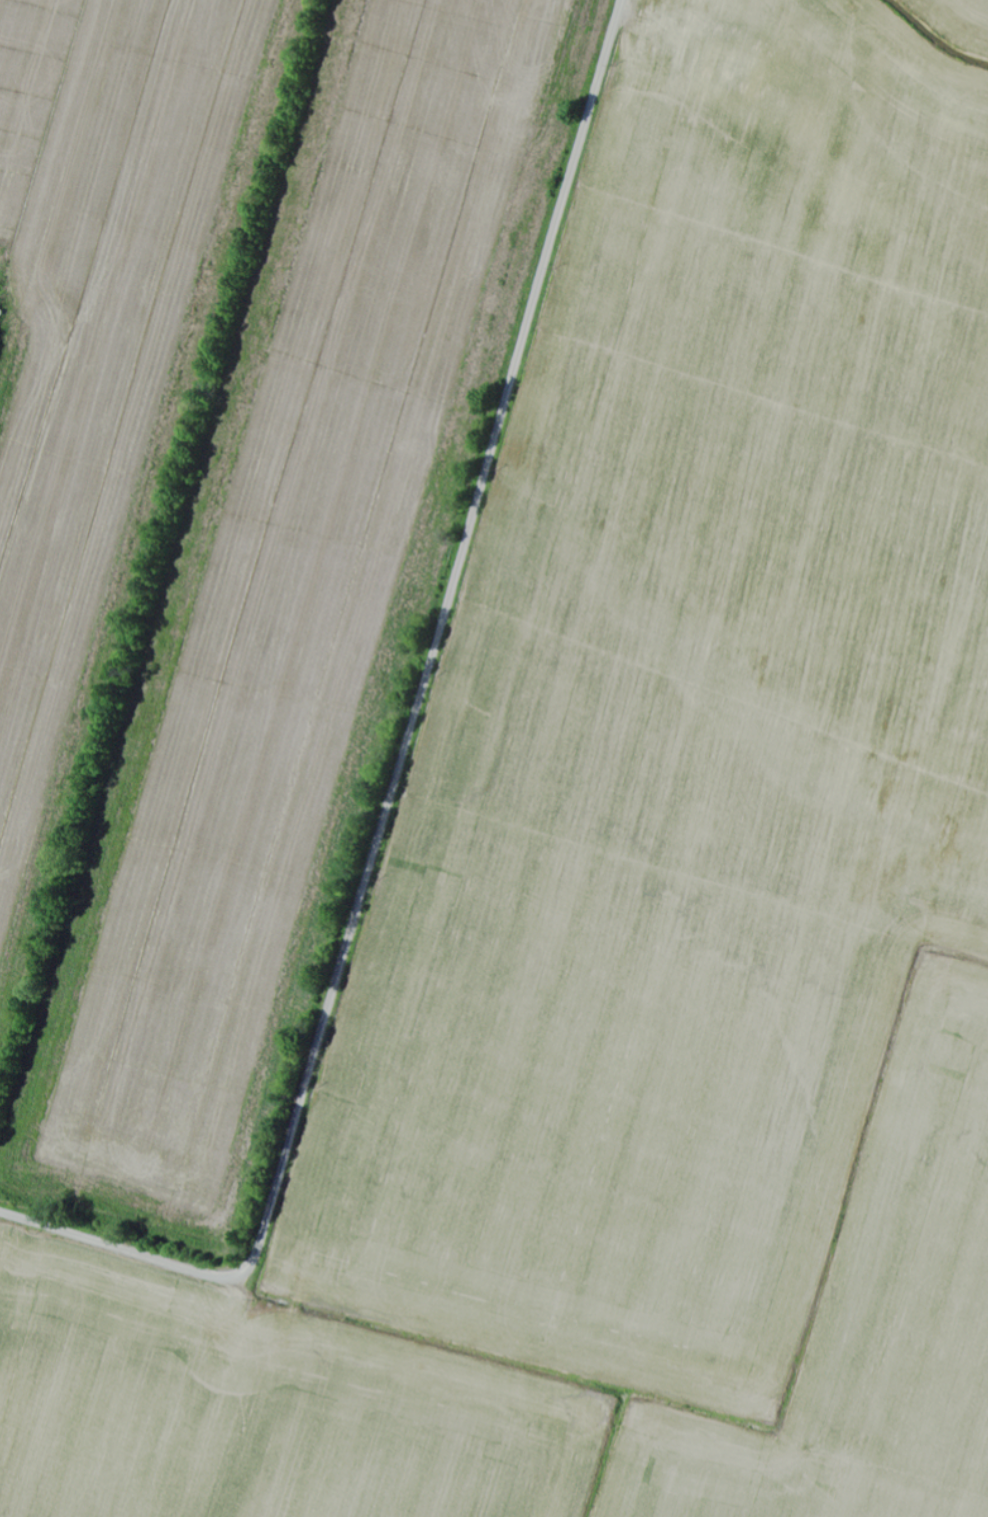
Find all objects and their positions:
road: (401, 759)

